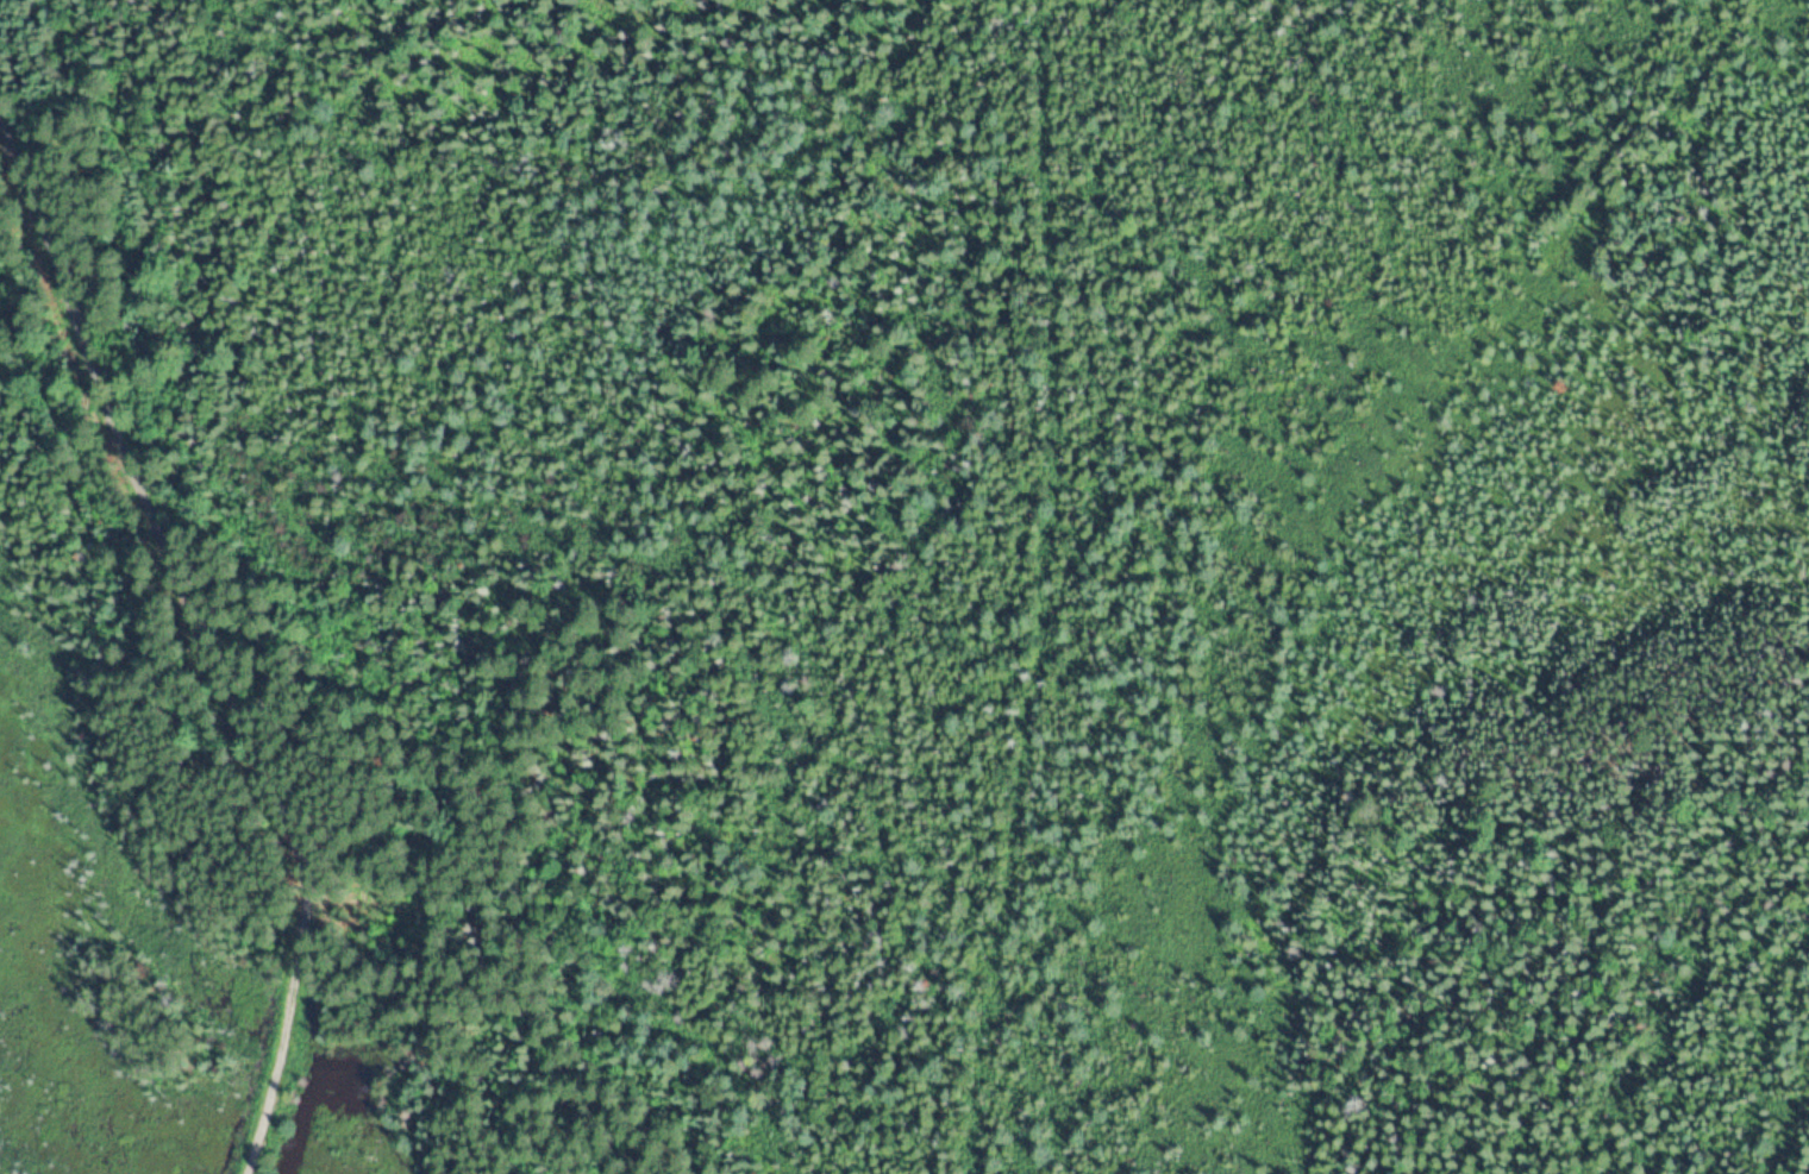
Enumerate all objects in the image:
road: (73, 337)

